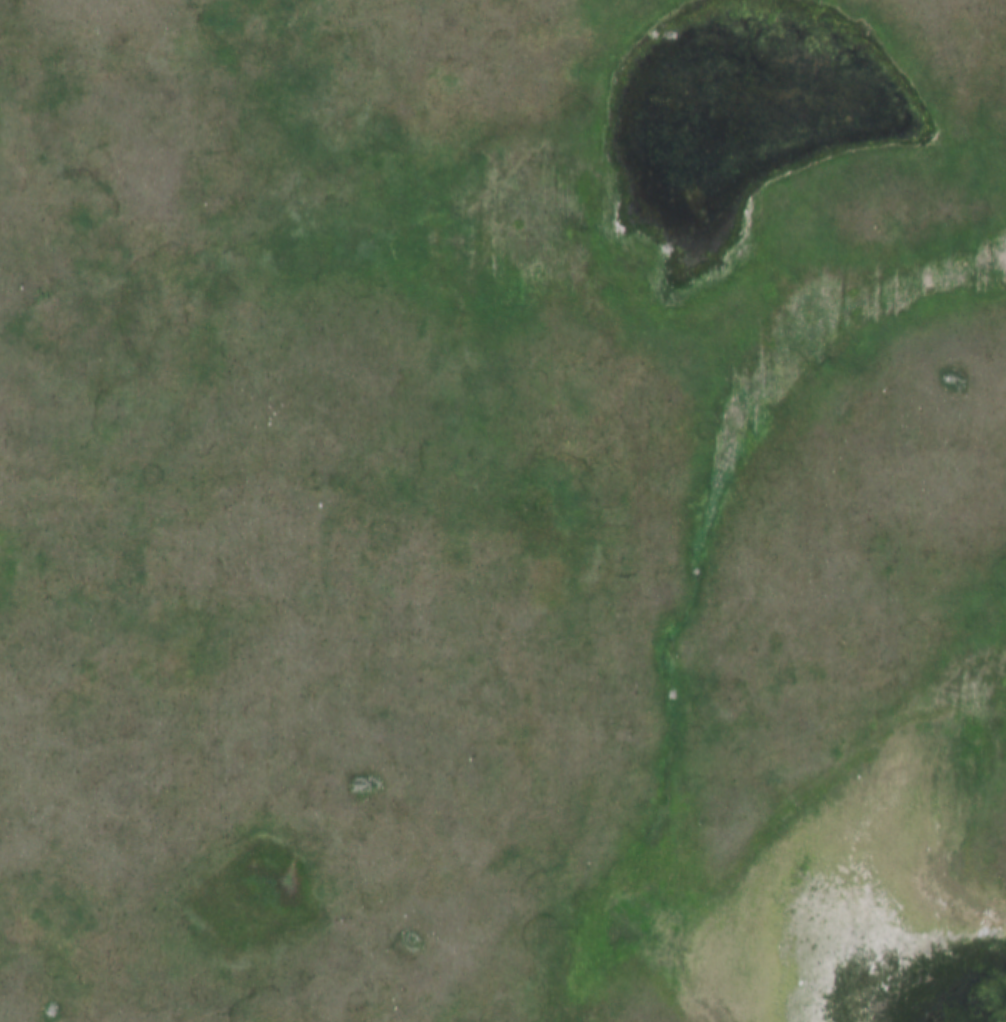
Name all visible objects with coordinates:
road: (15, 995)

